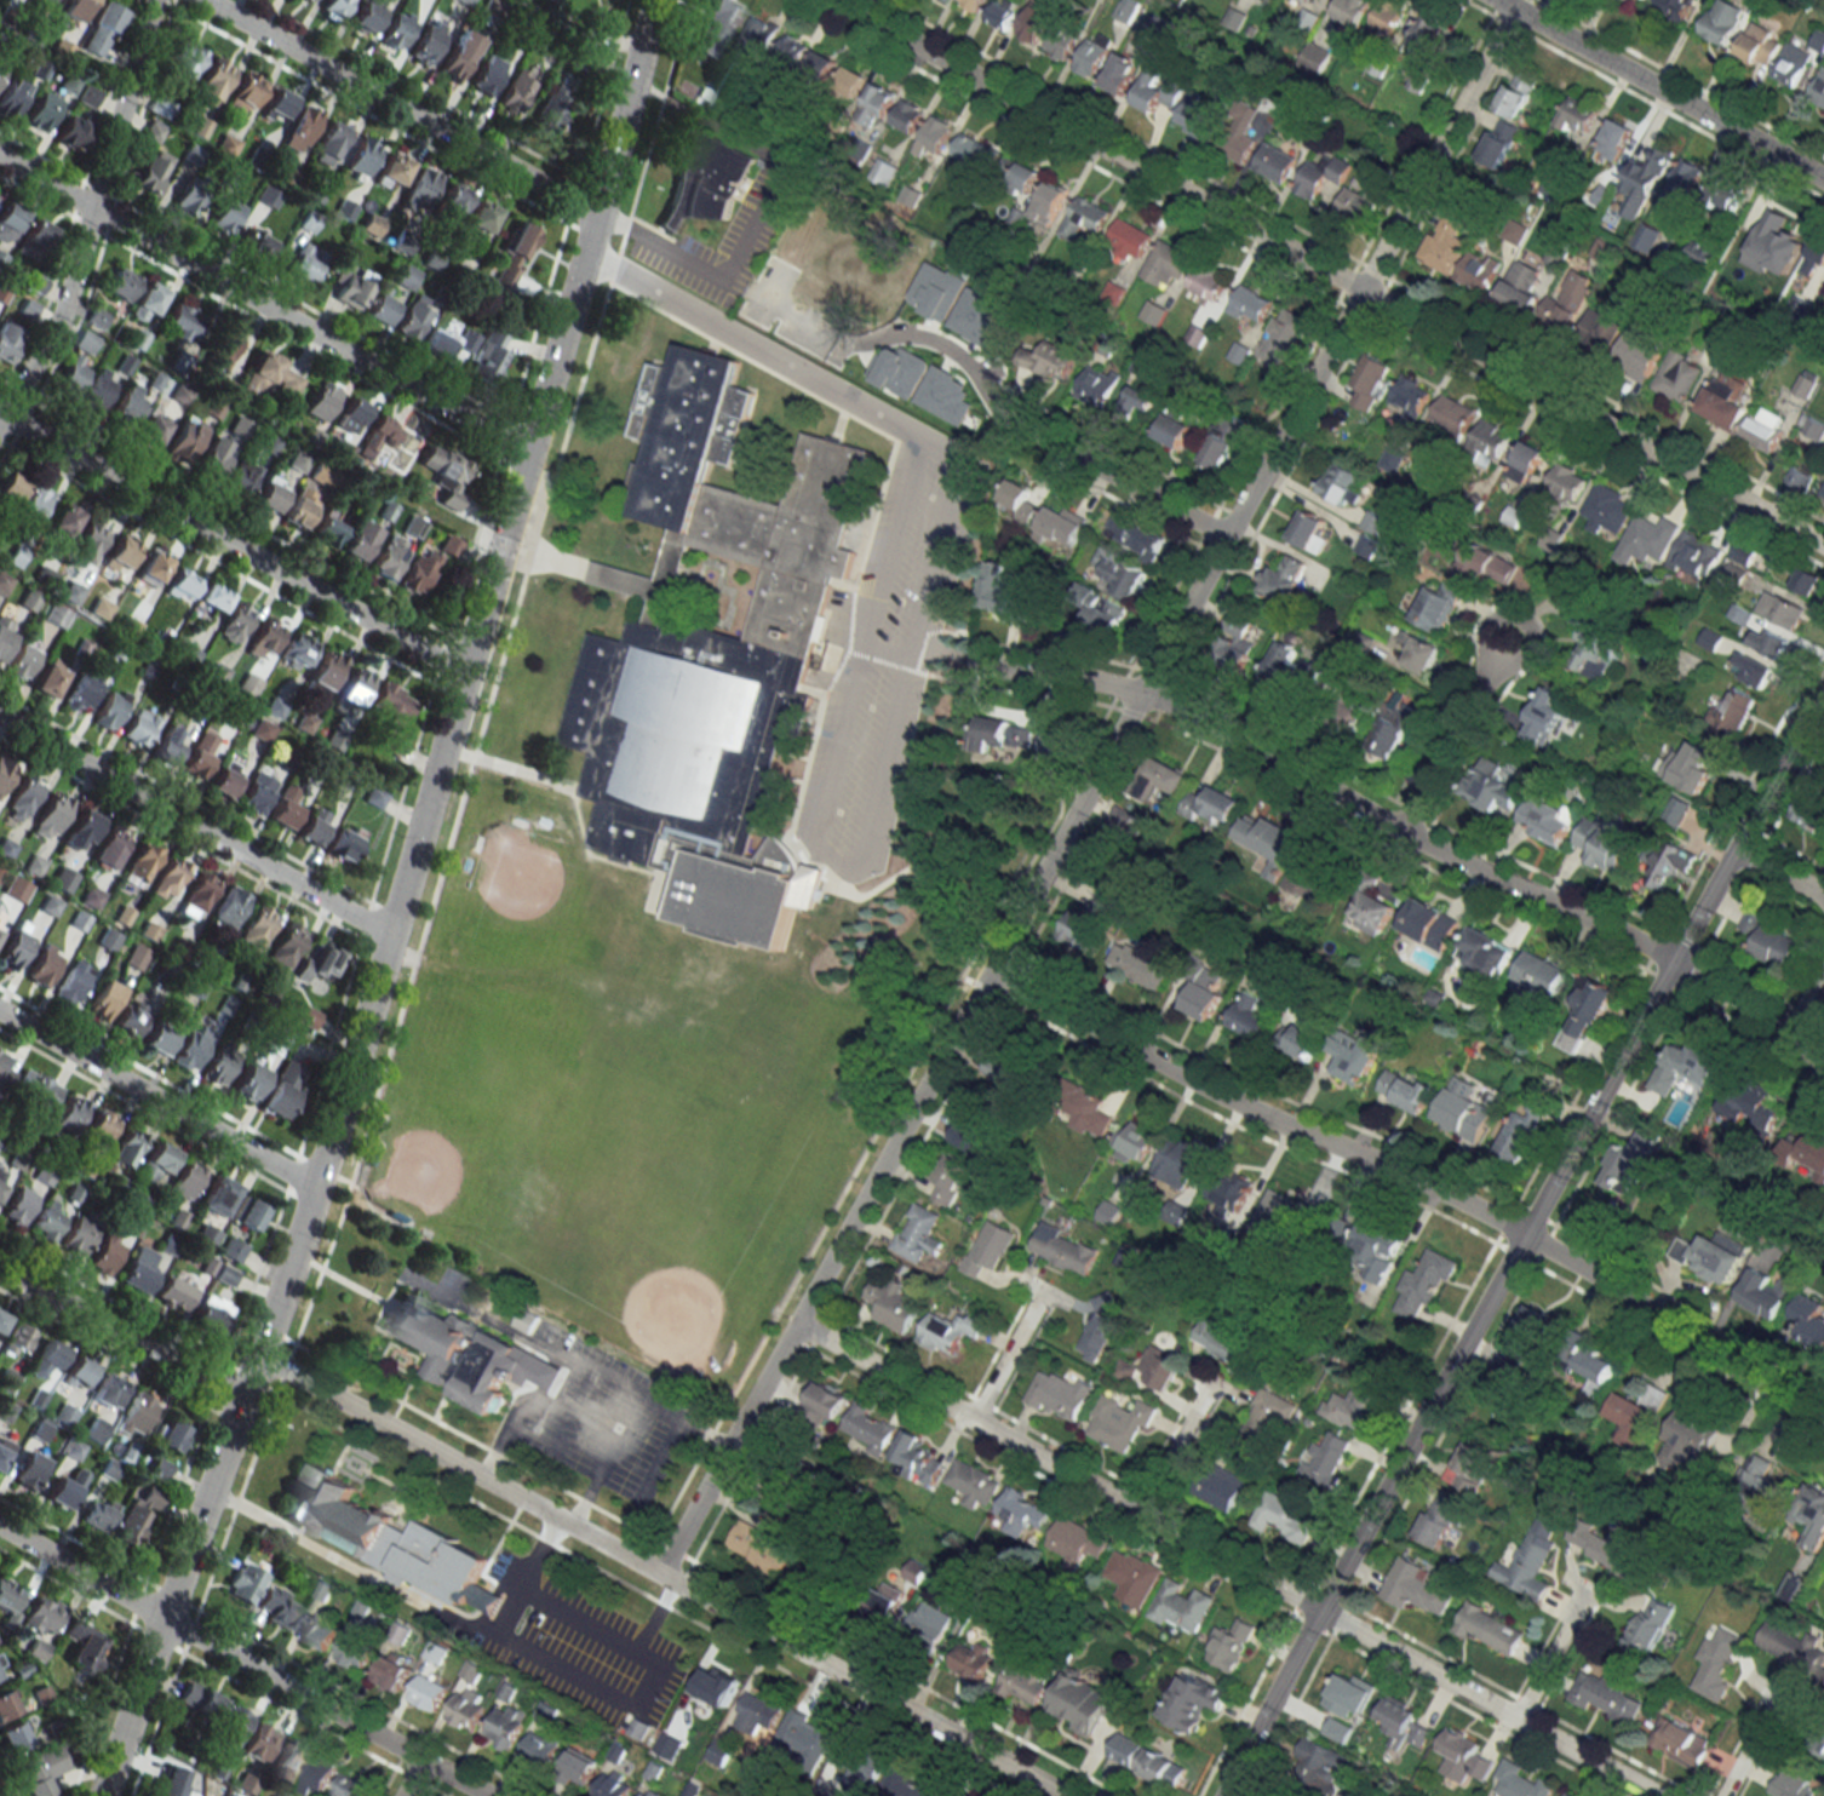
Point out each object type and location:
building: (306, 1)
building: (464, 1)
building: (44, 2)
building: (971, 4)
building: (1675, 7)
building: (73, 8)
building: (334, 8)
building: (1353, 12)
building: (1002, 13)
building: (365, 17)
building: (1388, 17)
building: (1723, 21)
building: (1034, 22)
building: (715, 27)
building: (101, 28)
building: (1154, 28)
building: (763, 31)
building: (1427, 31)
building: (394, 34)
building: (1062, 40)
building: (1819, 40)
building: (426, 42)
building: (1761, 44)
building: (792, 52)
building: (458, 54)
building: (1094, 54)
building: (1314, 58)
building: (184, 59)
building: (1793, 64)
building: (821, 65)
building: (1, 70)
building: (1122, 71)
building: (486, 74)
building: (213, 81)
building: (851, 81)
building: (1417, 81)
building: (516, 90)
building: (1158, 90)
road: (1660, 90)
building: (1818, 90)
building: (245, 91)
building: (1516, 94)
building: (11, 97)
building: (276, 104)
building: (876, 104)
building: (161, 105)
road: (400, 107)
building: (551, 107)
building: (41, 110)
building: (907, 115)
building: (1194, 115)
building: (1578, 115)
building: (299, 128)
building: (1238, 132)
building: (73, 133)
building: (1617, 134)
building: (934, 137)
building: (1499, 142)
building: (329, 143)
building: (226, 145)
building: (362, 157)
building: (974, 159)
building: (1274, 162)
building: (153, 171)
building: (390, 171)
building: (884, 171)
building: (701, 176)
building: (1026, 176)
building: (1320, 176)
building: (1644, 180)
building: (1685, 180)
building: (420, 187)
building: (1553, 188)
building: (1599, 194)
building: (266, 195)
building: (187, 199)
building: (451, 202)
building: (1049, 202)
road: (761, 203)
building: (1359, 203)
road: (90, 216)
building: (225, 216)
building: (1086, 216)
building: (478, 218)
building: (8, 220)
building: (1516, 231)
building: (1647, 236)
building: (33, 239)
building: (1128, 239)
building: (254, 242)
building: (1444, 243)
building: (1774, 243)
building: (1602, 248)
building: (1703, 252)
building: (514, 254)
building: (843, 256)
building: (1814, 257)
building: (304, 262)
building: (1166, 263)
building: (1479, 269)
road: (1329, 272)
building: (121, 283)
building: (1208, 283)
building: (1520, 287)
building: (348, 289)
building: (1568, 300)
building: (147, 302)
road: (263, 304)
building: (1250, 305)
building: (379, 308)
building: (1154, 312)
building: (413, 317)
building: (182, 322)
building: (1601, 327)
building: (1283, 338)
building: (7, 340)
building: (85, 340)
building: (437, 343)
building: (220, 351)
building: (1640, 354)
building: (488, 357)
building: (1051, 360)
building: (1142, 363)
road: (969, 365)
building: (73, 373)
building: (270, 375)
building: (1679, 375)
building: (1370, 380)
building: (1099, 385)
building: (98, 389)
building: (1410, 397)
building: (1141, 398)
building: (321, 400)
building: (130, 402)
building: (1722, 403)
building: (351, 415)
building: (1452, 415)
building: (1175, 426)
building: (1813, 426)
building: (150, 428)
building: (1761, 432)
building: (377, 436)
building: (1490, 438)
building: (183, 440)
building: (1221, 443)
building: (339, 451)
building: (214, 455)
building: (1392, 458)
building: (1528, 458)
road: (905, 472)
building: (446, 474)
road: (1114, 476)
building: (241, 477)
building: (1801, 477)
building: (1566, 482)
building: (12, 487)
building: (1340, 488)
building: (270, 493)
building: (1823, 495)
building: (1021, 500)
building: (34, 504)
building: (1611, 506)
building: (299, 507)
building: (63, 520)
building: (1061, 524)
building: (328, 527)
building: (1309, 530)
building: (1134, 534)
building: (1648, 539)
building: (359, 540)
building: (90, 541)
road: (231, 544)
building: (449, 545)
building: (1367, 546)
building: (1745, 551)
building: (121, 553)
building: (388, 556)
building: (1697, 556)
building: (1469, 563)
building: (151, 566)
building: (418, 570)
building: (1119, 573)
building: (1284, 579)
building: (1808, 579)
building: (4, 583)
building: (182, 584)
building: (1003, 586)
building: (212, 597)
building: (1438, 604)
building: (1782, 609)
building: (56, 615)
building: (1102, 615)
building: (235, 621)
building: (5, 633)
building: (265, 638)
building: (1713, 638)
building: (1235, 641)
building: (1771, 642)
building: (1595, 648)
building: (297, 652)
building: (1422, 653)
building: (711, 658)
building: (22, 661)
building: (1281, 661)
building: (326, 669)
building: (1753, 670)
building: (216, 673)
road: (1486, 675)
building: (50, 677)
building: (357, 683)
building: (82, 690)
building: (391, 702)
building: (110, 708)
building: (1349, 711)
building: (1544, 716)
building: (1730, 716)
building: (139, 727)
building: (1392, 730)
building: (1003, 735)
building: (165, 746)
building: (1054, 750)
building: (199, 754)
building: (4, 770)
building: (1159, 779)
building: (224, 781)
building: (1490, 785)
road: (1085, 791)
building: (374, 796)
building: (253, 797)
building: (22, 798)
building: (1814, 802)
building: (1212, 805)
building: (283, 808)
building: (51, 815)
building: (1120, 817)
building: (1547, 817)
building: (312, 825)
road: (194, 826)
building: (81, 830)
road: (1407, 833)
building: (1268, 839)
building: (344, 842)
building: (1602, 843)
building: (109, 848)
building: (143, 861)
building: (1669, 865)
road: (1779, 868)
building: (170, 876)
building: (1313, 876)
building: (62, 879)
building: (199, 893)
building: (92, 896)
road: (396, 905)
building: (228, 906)
building: (1371, 912)
building: (1430, 924)
building: (256, 929)
building: (1079, 931)
building: (1771, 937)
building: (17, 945)
building: (285, 945)
building: (1485, 951)
building: (319, 964)
building: (1138, 964)
building: (44, 965)
building: (1541, 975)
building: (73, 981)
building: (1203, 988)
building: (103, 1000)
road: (1806, 1003)
building: (1584, 1015)
building: (1249, 1016)
building: (306, 1017)
building: (130, 1019)
building: (156, 1039)
building: (1306, 1039)
building: (190, 1046)
building: (1352, 1055)
building: (218, 1065)
building: (1686, 1066)
building: (4, 1071)
building: (1003, 1073)
building: (248, 1079)
building: (36, 1088)
building: (281, 1089)
building: (1406, 1090)
road: (156, 1098)
building: (1753, 1107)
building: (1086, 1113)
building: (69, 1114)
building: (1462, 1117)
building: (99, 1125)
building: (1518, 1136)
building: (1135, 1142)
building: (127, 1147)
building: (1808, 1151)
building: (156, 1160)
building: (1628, 1163)
building: (1177, 1165)
building: (44, 1174)
building: (950, 1176)
road: (1413, 1178)
building: (2, 1180)
building: (184, 1182)
building: (1232, 1187)
building: (217, 1195)
building: (18, 1206)
building: (249, 1213)
building: (1175, 1218)
building: (47, 1220)
building: (917, 1232)
building: (78, 1234)
road: (1520, 1239)
building: (167, 1243)
building: (992, 1244)
building: (231, 1250)
building: (1063, 1250)
building: (1376, 1250)
building: (105, 1253)
building: (1713, 1256)
building: (139, 1269)
building: (1422, 1286)
building: (1765, 1292)
building: (173, 1293)
building: (891, 1302)
building: (212, 1314)
building: (2, 1319)
building: (1811, 1320)
building: (526, 1321)
building: (1100, 1326)
building: (948, 1331)
road: (120, 1335)
building: (16, 1339)
building: (1522, 1341)
building: (1226, 1343)
building: (470, 1354)
building: (47, 1356)
road: (1006, 1356)
building: (1158, 1367)
building: (1125, 1368)
building: (1595, 1370)
building: (78, 1372)
building: (107, 1390)
building: (1057, 1394)
building: (826, 1401)
building: (1354, 1407)
building: (1637, 1410)
building: (136, 1411)
building: (1267, 1417)
building: (1118, 1423)
building: (868, 1428)
building: (168, 1434)
road: (564, 1438)
building: (1688, 1441)
road: (1174, 1448)
building: (4, 1450)
building: (917, 1458)
building: (1325, 1458)
building: (1468, 1467)
building: (29, 1471)
building: (971, 1482)
building: (1759, 1482)
building: (1218, 1486)
building: (64, 1488)
building: (781, 1498)
building: (335, 1510)
building: (1022, 1510)
building: (137, 1514)
building: (1812, 1514)
building: (1284, 1517)
building: (1440, 1519)
building: (1077, 1542)
building: (758, 1547)
road: (319, 1549)
building: (1602, 1549)
building: (1530, 1559)
road: (1227, 1560)
building: (434, 1561)
building: (914, 1571)
road: (660, 1576)
building: (1132, 1577)
building: (243, 1582)
building: (1412, 1586)
building: (1794, 1586)
building: (8, 1596)
building: (885, 1601)
building: (1181, 1606)
building: (277, 1607)
building: (41, 1616)
road: (575, 1616)
building: (930, 1620)
building: (1648, 1625)
building: (317, 1629)
building: (1490, 1630)
road: (487, 1637)
building: (1229, 1643)
building: (1789, 1645)
building: (86, 1648)
building: (352, 1649)
road: (1550, 1653)
building: (973, 1659)
building: (1716, 1662)
road: (242, 1663)
building: (391, 1670)
building: (0, 1671)
building: (470, 1672)
building: (1023, 1683)
building: (429, 1689)
building: (713, 1689)
building: (507, 1691)
building: (1349, 1692)
building: (1606, 1697)
building: (199, 1699)
building: (1082, 1702)
building: (1192, 1702)
building: (6, 1704)
building: (466, 1708)
building: (546, 1711)
building: (759, 1711)
building: (1401, 1723)
building: (504, 1726)
building: (230, 1727)
building: (1337, 1729)
building: (807, 1734)
building: (673, 1735)
building: (1822, 1735)
building: (15, 1737)
building: (1680, 1740)
building: (259, 1742)
road: (1748, 1745)
building: (540, 1748)
building: (1125, 1749)
building: (719, 1751)
building: (1462, 1756)
building: (288, 1757)
building: (861, 1758)
building: (1320, 1765)
building: (578, 1766)
building: (1161, 1768)
building: (39, 1771)
building: (317, 1777)
road: (412, 1778)
building: (171, 1780)
building: (1521, 1781)
building: (613, 1785)
building: (907, 1785)
building: (352, 1786)
building: (1791, 1786)
building: (648, 1792)
building: (1566, 1795)

